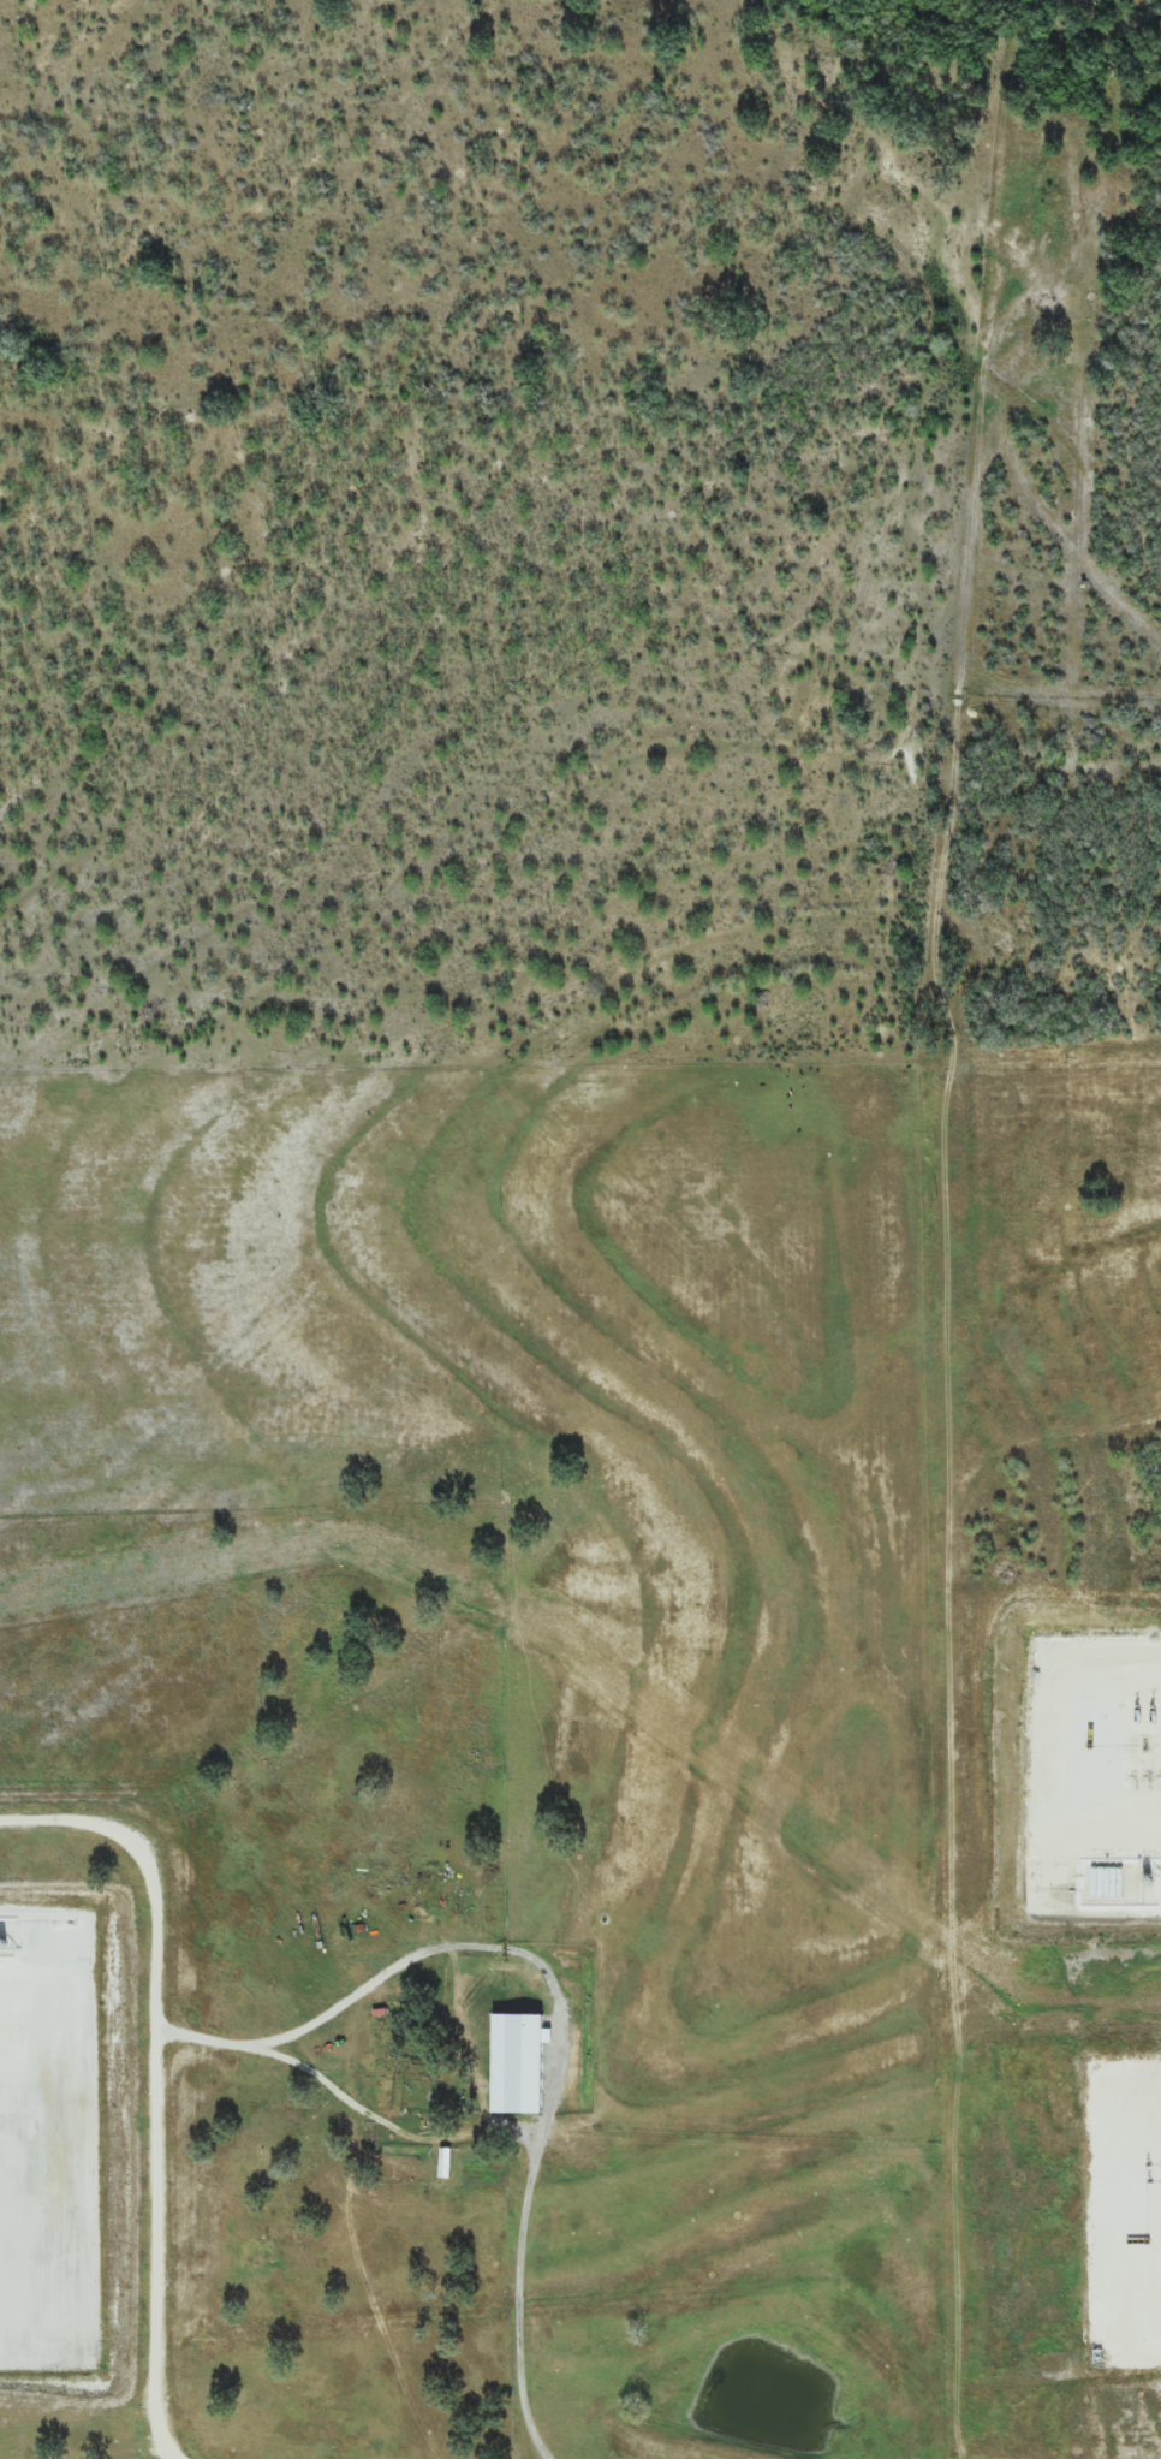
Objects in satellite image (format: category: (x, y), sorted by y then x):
road: (352, 1990)
road: (559, 2013)
road: (200, 2035)
building: (518, 2061)
road: (151, 2080)
road: (517, 2310)

